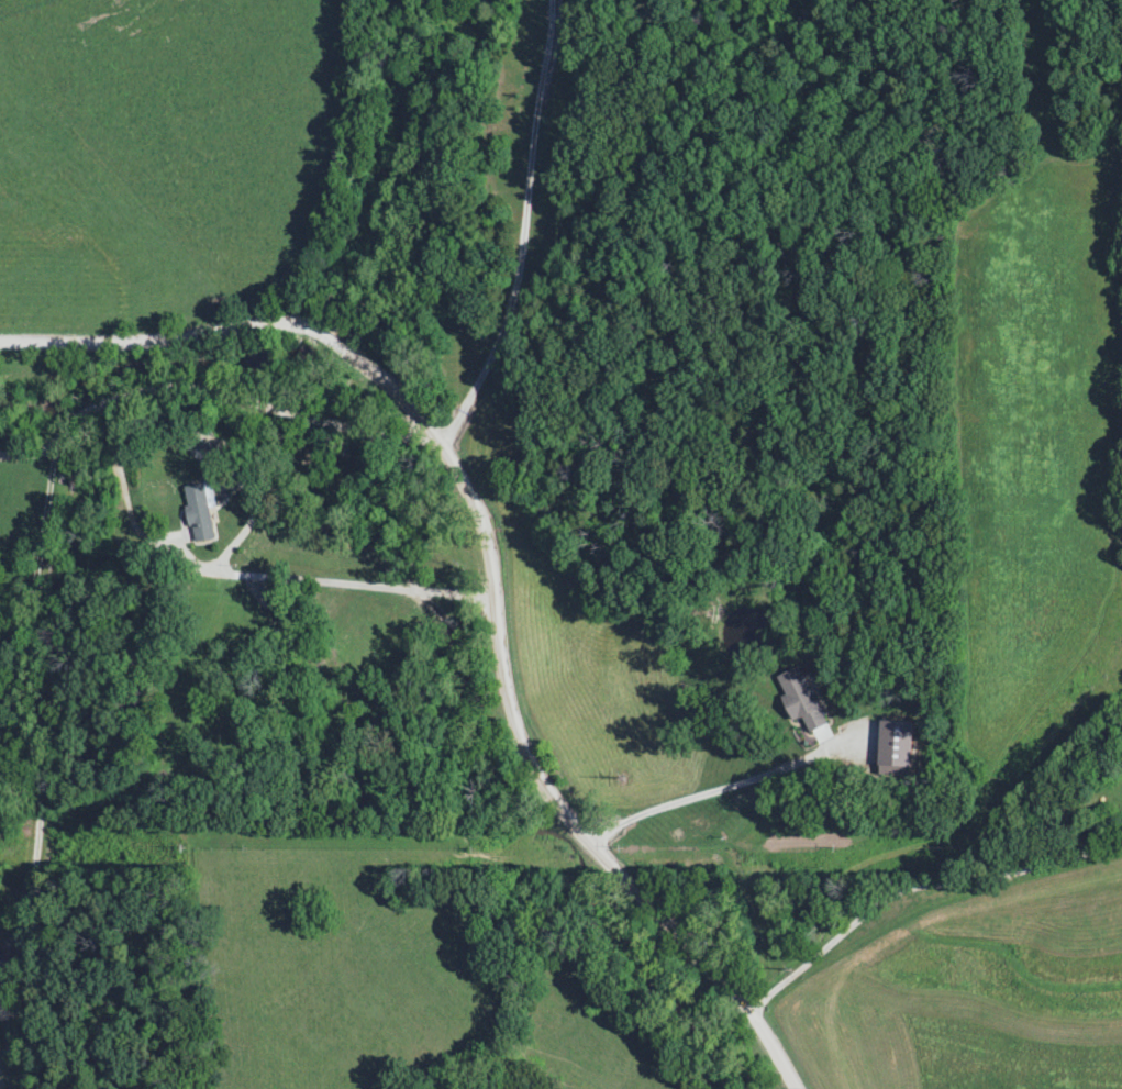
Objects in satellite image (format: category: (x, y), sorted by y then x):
road: (525, 229)
road: (29, 456)
building: (197, 514)
road: (37, 560)
road: (495, 567)
road: (248, 576)
building: (795, 700)
road: (697, 799)
road: (920, 890)
building: (7, 982)

